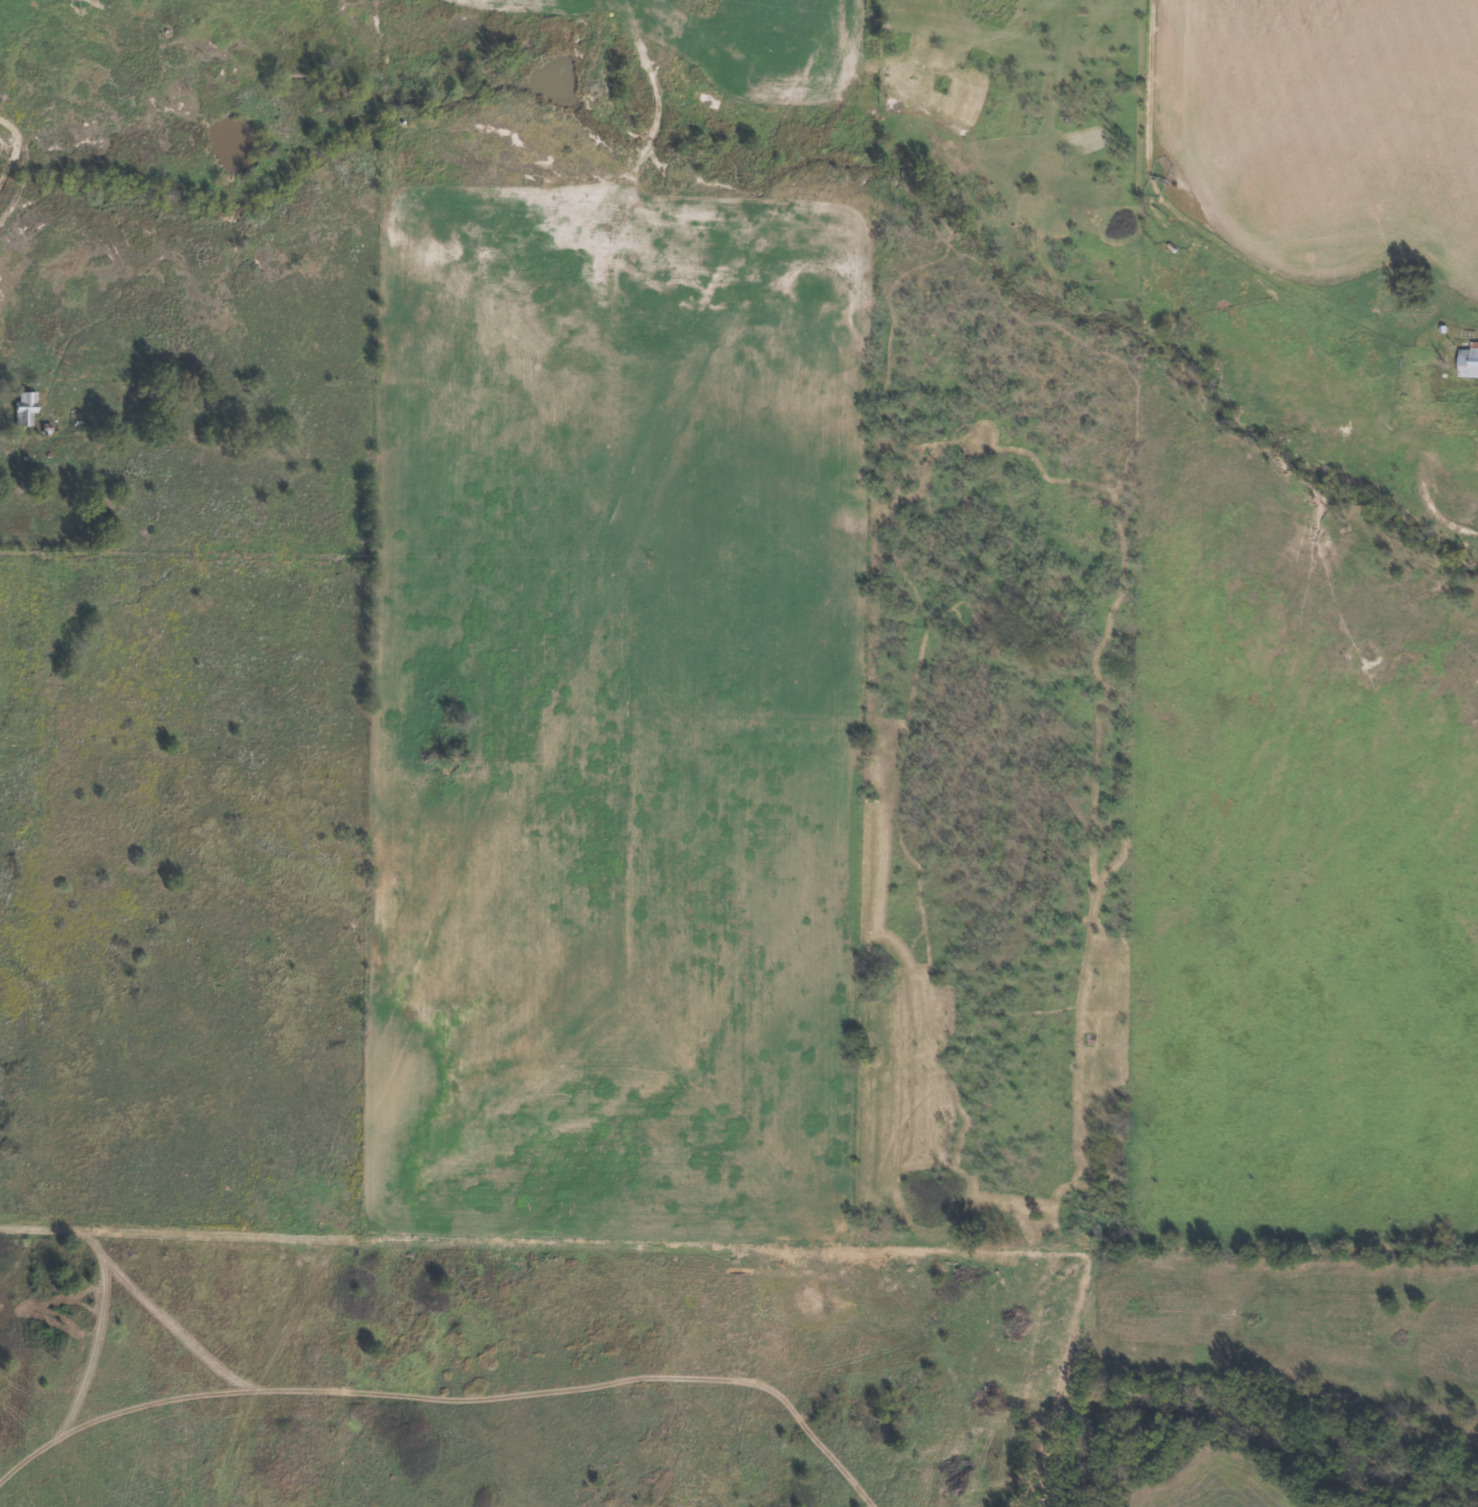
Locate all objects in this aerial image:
road: (1135, 21)
road: (1063, 24)
road: (1187, 250)
building: (1469, 361)
building: (25, 409)

